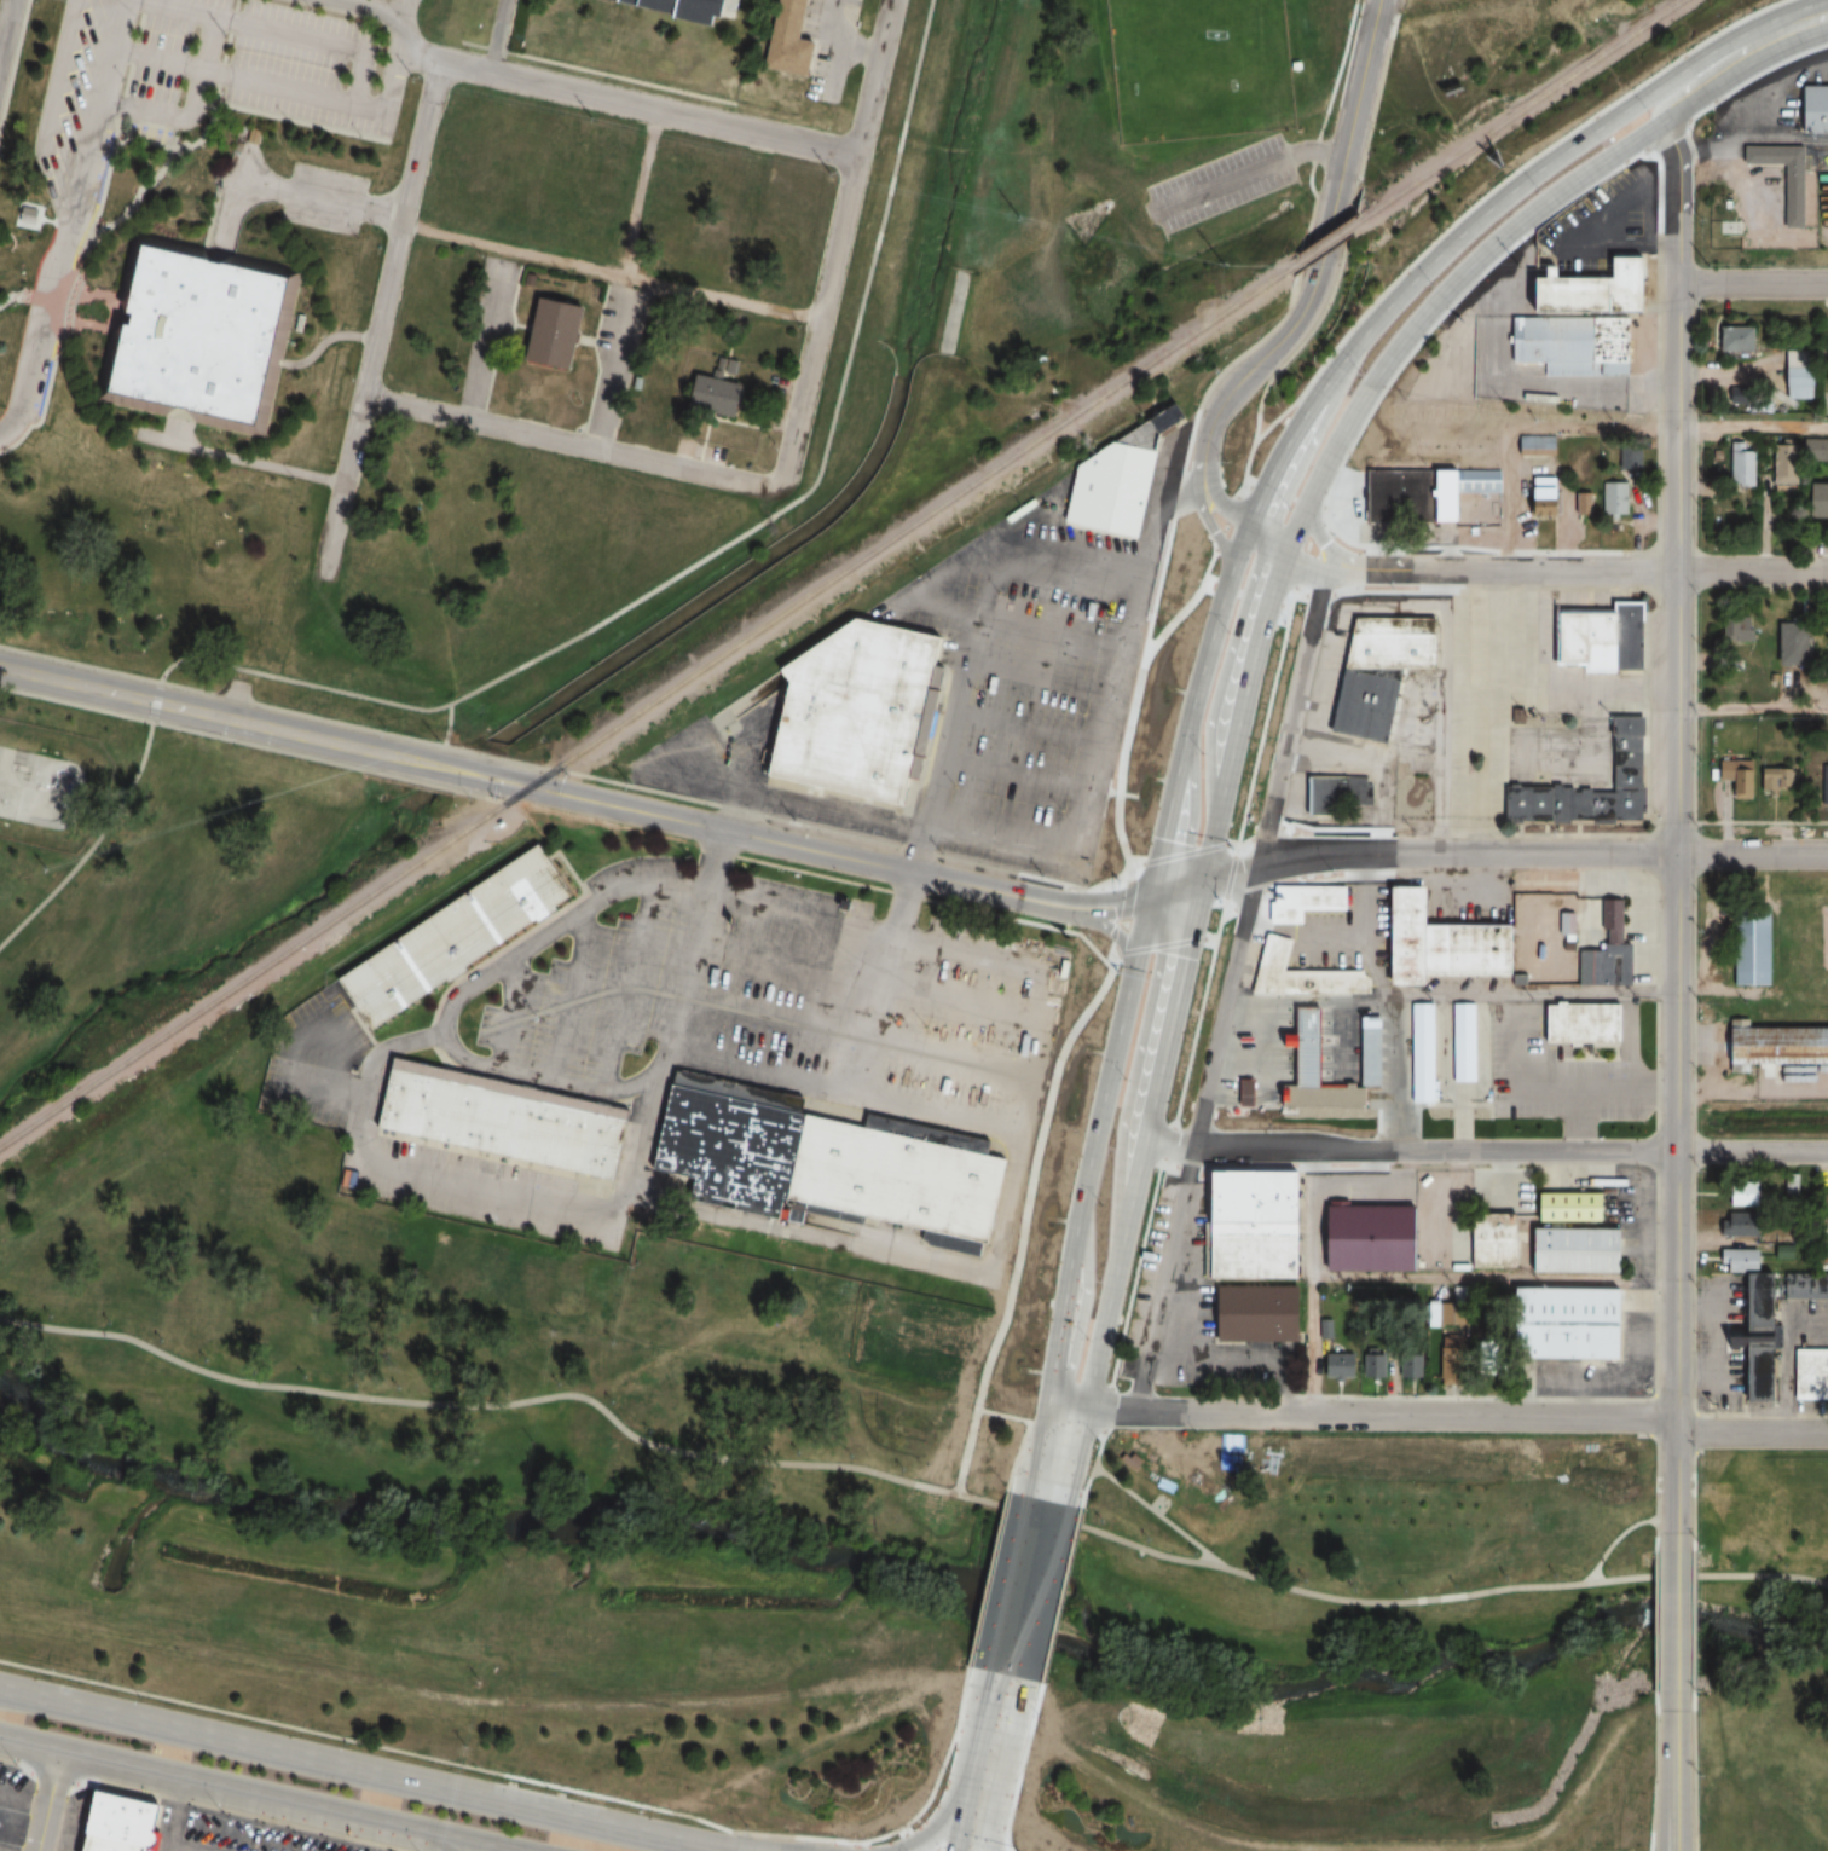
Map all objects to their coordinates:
parking lot: (409, 1)
building: (710, 2)
road: (406, 11)
road: (382, 12)
road: (5, 23)
road: (1800, 23)
road: (250, 27)
building: (796, 40)
road: (105, 52)
parking lot: (262, 57)
road: (1713, 69)
road: (201, 75)
road: (360, 80)
road: (244, 83)
road: (393, 83)
road: (627, 103)
railway: (1523, 109)
building: (1811, 109)
road: (134, 115)
road: (1753, 143)
road: (1245, 173)
parking lot: (1219, 184)
road: (1491, 190)
road: (635, 193)
building: (1784, 197)
road: (1353, 199)
building: (27, 215)
road: (1481, 233)
road: (835, 243)
railway: (1330, 244)
road: (513, 251)
road: (1314, 267)
road: (48, 272)
building: (1603, 282)
road: (1753, 283)
road: (722, 301)
road: (380, 316)
building: (553, 331)
building: (198, 334)
road: (1260, 336)
building: (1729, 337)
building: (1566, 343)
building: (1823, 348)
building: (1792, 374)
building: (721, 394)
road: (1257, 411)
road: (1578, 428)
road: (1325, 433)
road: (568, 442)
building: (1531, 446)
road: (825, 450)
building: (1627, 461)
building: (1736, 464)
building: (1778, 465)
road: (1246, 469)
road: (1246, 484)
building: (1111, 488)
building: (1537, 488)
building: (1419, 493)
road: (1181, 496)
road: (1285, 496)
building: (1612, 498)
building: (1813, 501)
building: (1580, 504)
road: (1285, 509)
road: (1308, 521)
road: (1225, 525)
road: (1234, 530)
road: (1305, 551)
road: (1297, 560)
road: (1207, 569)
road: (1578, 571)
road: (1226, 583)
road: (1250, 594)
road: (914, 597)
road: (1249, 606)
road: (1677, 625)
building: (1593, 638)
building: (1387, 643)
building: (1786, 648)
road: (156, 683)
building: (1358, 706)
railway: (647, 708)
building: (860, 710)
road: (1752, 710)
road: (1132, 715)
road: (1224, 718)
road: (1263, 721)
road: (446, 724)
road: (266, 727)
road: (247, 741)
road: (571, 773)
building: (1770, 780)
building: (1740, 782)
park: (39, 786)
building: (1340, 791)
building: (1601, 794)
building: (1520, 804)
road: (736, 810)
road: (1335, 826)
road: (1198, 829)
road: (1265, 832)
road: (1076, 834)
road: (1238, 840)
road: (815, 850)
road: (1181, 852)
road: (1505, 856)
park: (155, 869)
road: (1228, 874)
road: (671, 880)
road: (907, 883)
traffic signals: (1186, 885)
road: (929, 898)
road: (1142, 900)
building: (1298, 902)
road: (1124, 909)
road: (1217, 922)
building: (1537, 925)
building: (459, 938)
road: (1159, 944)
building: (1601, 948)
building: (1746, 948)
building: (1458, 950)
park: (1804, 953)
road: (1169, 962)
road: (1144, 965)
building: (1296, 976)
road: (1227, 990)
road: (1451, 999)
park: (1760, 1005)
building: (1575, 1025)
road: (1194, 1030)
building: (1459, 1043)
building: (1772, 1045)
building: (1372, 1052)
building: (1419, 1053)
building: (1315, 1072)
road: (1139, 1094)
building: (1240, 1094)
building: (509, 1117)
road: (1167, 1141)
building: (734, 1143)
road: (1476, 1150)
road: (638, 1157)
road: (1271, 1165)
building: (907, 1174)
building: (1739, 1195)
road: (1113, 1205)
building: (1254, 1205)
building: (1822, 1207)
building: (1561, 1208)
road: (1025, 1215)
building: (1734, 1225)
building: (1365, 1240)
building: (1487, 1240)
building: (1781, 1246)
building: (1587, 1248)
building: (1254, 1259)
road: (1134, 1271)
road: (1494, 1279)
road: (1312, 1282)
road: (1677, 1291)
building: (1809, 1291)
building: (1256, 1315)
building: (1574, 1324)
road: (1083, 1335)
building: (1759, 1335)
building: (1372, 1358)
building: (1335, 1366)
building: (1410, 1366)
building: (1809, 1375)
road: (1105, 1406)
road: (1000, 1412)
road: (1371, 1413)
road: (1752, 1434)
road: (1059, 1444)
road: (1014, 1453)
park: (488, 1463)
road: (1091, 1465)
road: (908, 1480)
road: (1656, 1482)
road: (1676, 1491)
road: (1691, 1498)
road: (1156, 1514)
road: (1613, 1539)
river: (903, 1568)
road: (987, 1577)
road: (1026, 1586)
road: (1060, 1592)
road: (1656, 1627)
road: (1674, 1627)
road: (1691, 1627)
park: (1353, 1648)
park: (1764, 1650)
road: (16, 1762)
road: (1020, 1765)
road: (361, 1770)
road: (985, 1771)
road: (953, 1775)
road: (1655, 1778)
road: (1693, 1778)
road: (1673, 1780)
road: (538, 1781)
road: (250, 1794)
road: (48, 1800)
building: (117, 1823)
road: (907, 1838)
road: (476, 1849)

